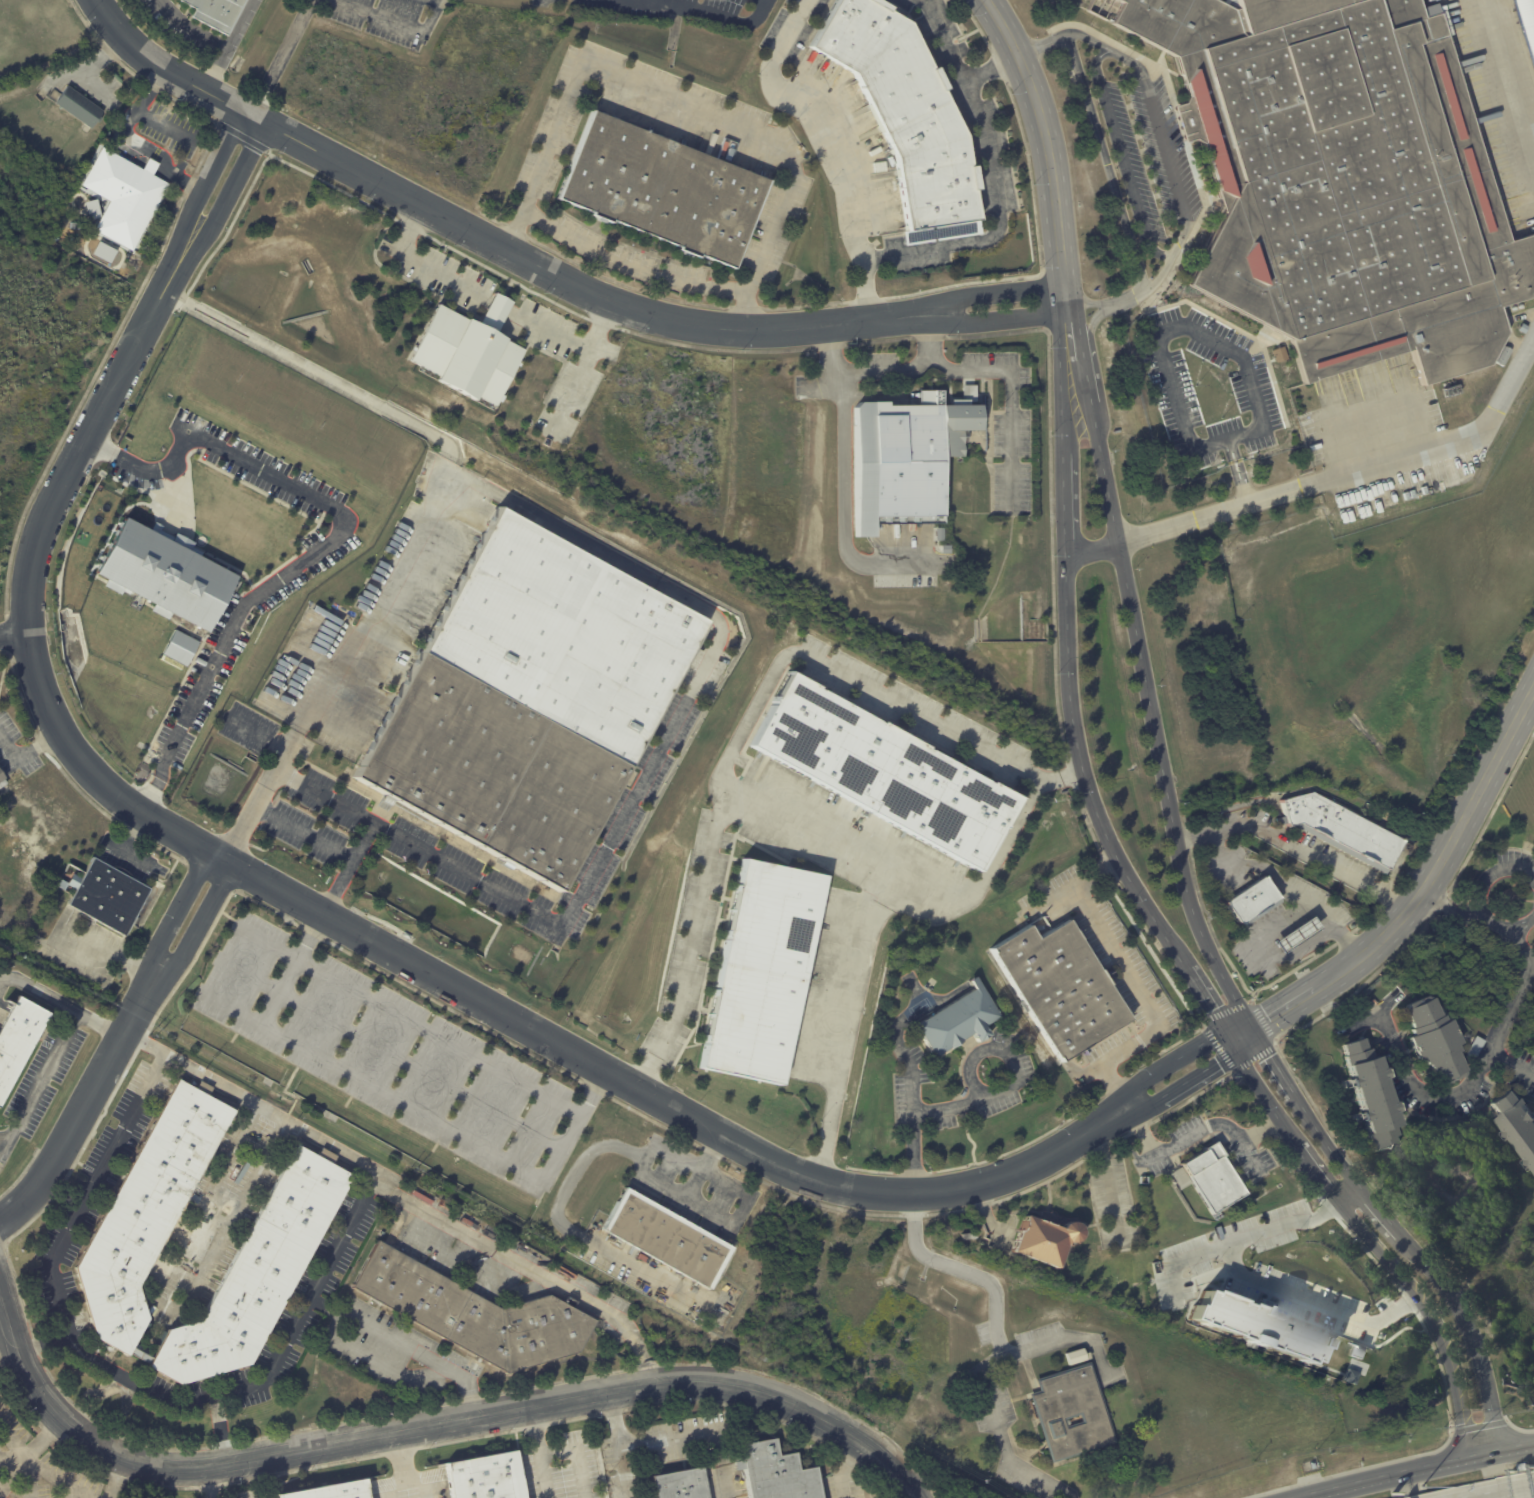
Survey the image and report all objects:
building: (1079, 4)
parking lot: (694, 10)
building: (216, 12)
road: (708, 15)
road: (396, 22)
building: (1526, 23)
road: (184, 32)
road: (231, 45)
road: (281, 56)
road: (165, 68)
road: (990, 68)
road: (1507, 77)
road: (678, 102)
building: (78, 105)
building: (906, 114)
road: (832, 142)
road: (1168, 146)
road: (1047, 150)
road: (1125, 158)
road: (993, 174)
building: (1340, 179)
building: (663, 190)
building: (126, 195)
building: (93, 207)
road: (1127, 220)
building: (77, 224)
building: (68, 230)
building: (106, 251)
road: (424, 263)
road: (627, 267)
road: (570, 281)
road: (990, 292)
road: (1093, 303)
road: (498, 305)
road: (993, 320)
building: (1519, 330)
road: (925, 335)
road: (569, 340)
road: (1208, 340)
building: (468, 351)
building: (1501, 356)
road: (985, 369)
road: (313, 372)
road: (1066, 380)
road: (576, 381)
road: (1097, 428)
building: (908, 455)
road: (1356, 475)
road: (271, 477)
road: (846, 484)
road: (1066, 502)
building: (935, 534)
building: (941, 549)
road: (1094, 551)
building: (167, 575)
road: (680, 592)
road: (14, 634)
building: (181, 648)
building: (530, 699)
road: (193, 710)
road: (753, 716)
road: (258, 732)
road: (26, 750)
building: (884, 770)
road: (1085, 775)
building: (2, 781)
road: (325, 793)
building: (1341, 830)
road: (304, 831)
road: (1315, 853)
road: (898, 874)
road: (1273, 876)
building: (107, 897)
road: (1416, 898)
building: (1253, 900)
road: (1479, 901)
building: (1532, 903)
road: (1451, 908)
road: (329, 921)
building: (1291, 933)
road: (1522, 939)
road: (1530, 952)
road: (1264, 958)
building: (762, 973)
road: (350, 987)
building: (1061, 987)
road: (1137, 987)
road: (1210, 1004)
road: (1387, 1007)
building: (958, 1020)
road: (835, 1022)
road: (100, 1023)
road: (1253, 1024)
building: (1434, 1040)
building: (19, 1043)
road: (60, 1043)
road: (115, 1046)
parking lot: (386, 1051)
road: (393, 1054)
road: (1512, 1063)
road: (1266, 1092)
road: (287, 1094)
building: (1371, 1095)
road: (1456, 1098)
road: (401, 1100)
building: (1517, 1124)
road: (1193, 1134)
road: (711, 1150)
road: (1319, 1171)
road: (637, 1172)
building: (1209, 1178)
road: (1107, 1182)
road: (1349, 1191)
road: (741, 1208)
building: (463, 1216)
building: (292, 1221)
road: (573, 1233)
building: (968, 1236)
building: (666, 1237)
road: (919, 1239)
building: (1042, 1242)
road: (459, 1264)
road: (528, 1267)
road: (1255, 1282)
road: (163, 1306)
road: (324, 1307)
building: (474, 1314)
road: (1427, 1315)
road: (351, 1316)
building: (1253, 1324)
road: (1064, 1336)
road: (42, 1343)
building: (1355, 1349)
building: (1075, 1355)
building: (1351, 1376)
road: (260, 1380)
building: (1065, 1411)
road: (430, 1422)
road: (219, 1429)
road: (701, 1431)
road: (40, 1442)
road: (618, 1444)
road: (540, 1451)
road: (575, 1455)
road: (0, 1456)
road: (19, 1467)
road: (842, 1467)
road: (1415, 1467)
road: (34, 1468)
road: (404, 1468)
building: (776, 1473)
building: (486, 1477)
road: (115, 1478)
road: (30, 1479)
road: (66, 1481)
road: (206, 1482)
building: (682, 1485)
road: (395, 1486)
road: (1530, 1488)
road: (69, 1490)
building: (333, 1491)
road: (1504, 1493)

